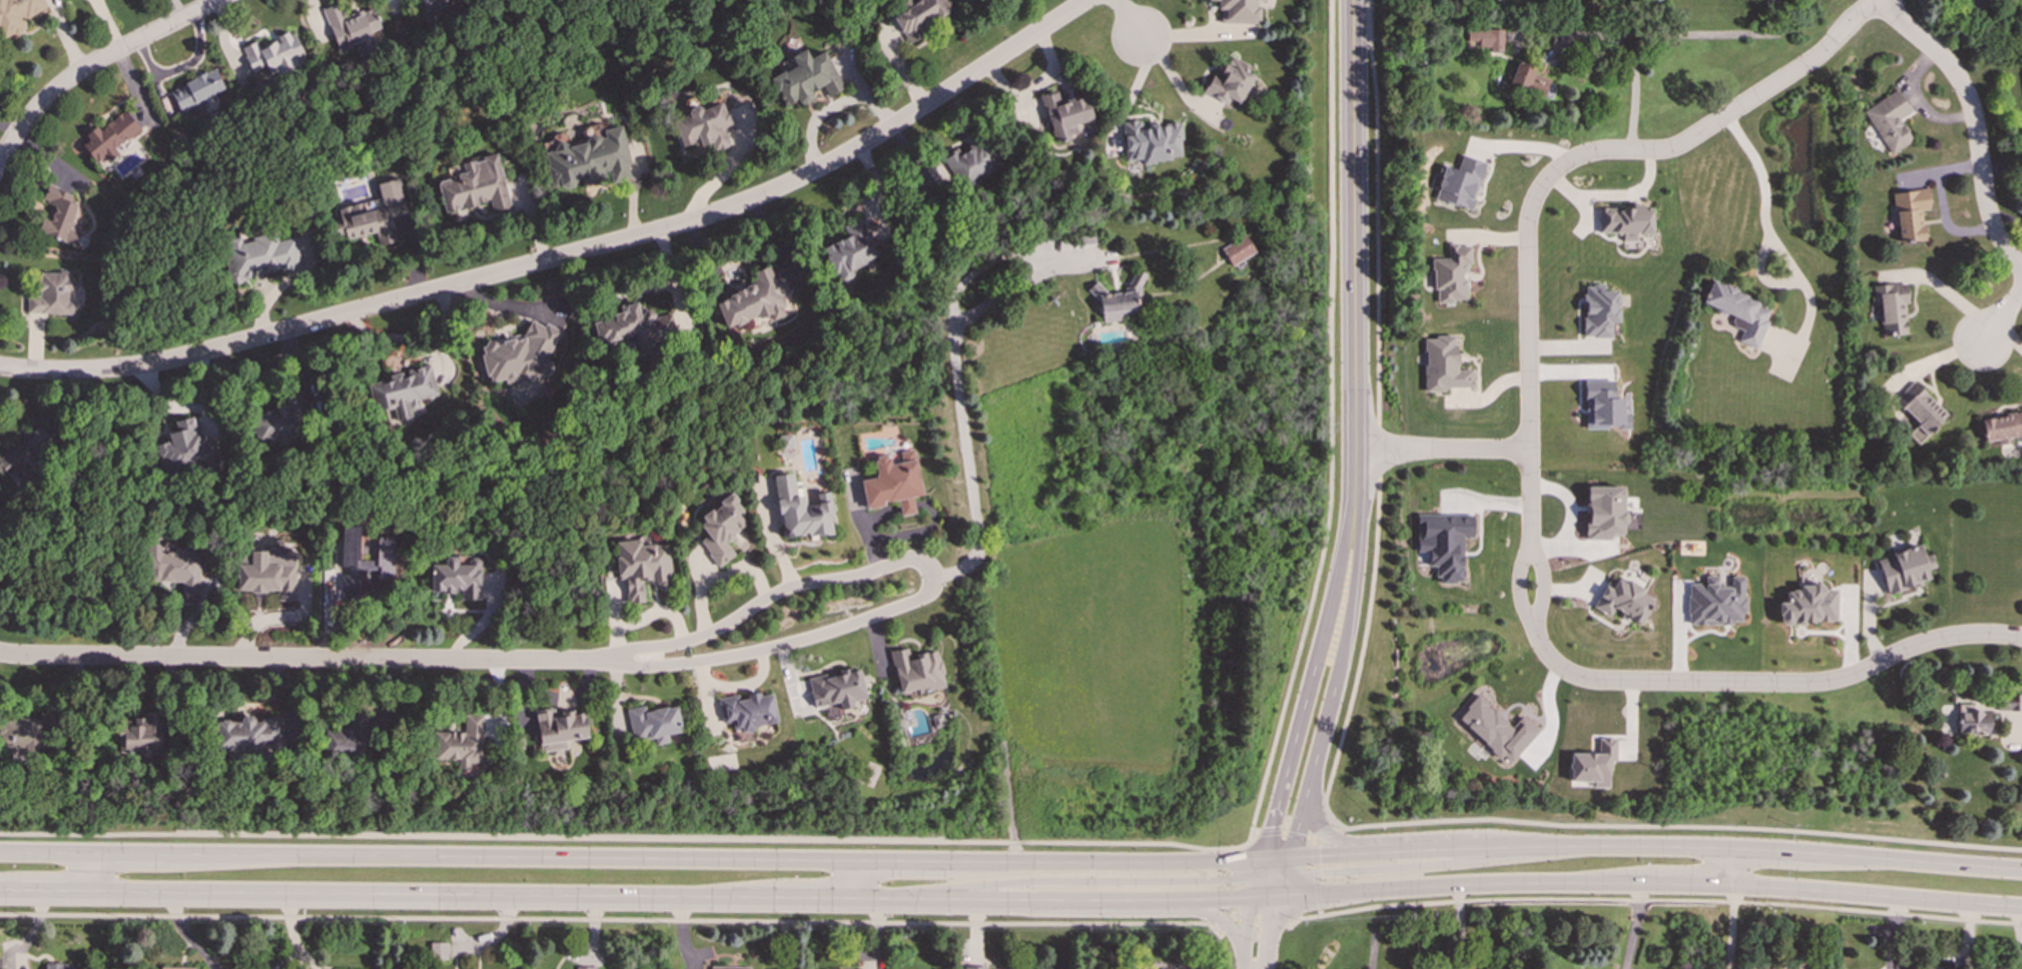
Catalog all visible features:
building: (439, 6)
building: (1237, 12)
building: (17, 15)
building: (916, 17)
road: (1128, 21)
building: (350, 26)
building: (1487, 38)
building: (274, 54)
road: (95, 64)
road: (1630, 71)
building: (805, 78)
building: (1528, 79)
building: (1229, 81)
building: (198, 89)
road: (1916, 101)
building: (1065, 115)
building: (1889, 121)
road: (1974, 122)
building: (704, 127)
building: (108, 136)
building: (1151, 142)
building: (587, 159)
building: (972, 162)
building: (1458, 181)
building: (475, 185)
road: (1943, 203)
building: (375, 213)
building: (1910, 214)
building: (59, 215)
building: (1624, 221)
road: (1353, 225)
road: (1771, 241)
building: (1236, 249)
building: (849, 250)
road: (569, 256)
building: (258, 257)
building: (1452, 274)
building: (51, 294)
building: (753, 301)
building: (1116, 301)
building: (1890, 307)
building: (1599, 310)
building: (1740, 312)
road: (2003, 314)
building: (633, 325)
building: (520, 354)
building: (1443, 365)
road: (957, 379)
building: (402, 390)
building: (1603, 406)
building: (1920, 410)
road: (1378, 420)
road: (1331, 422)
building: (275, 426)
building: (2002, 427)
building: (786, 445)
building: (186, 449)
building: (25, 454)
road: (1440, 454)
road: (1528, 464)
building: (892, 484)
building: (801, 510)
building: (1604, 511)
building: (721, 528)
building: (1443, 543)
road: (1349, 546)
building: (642, 566)
building: (176, 568)
building: (1904, 568)
road: (932, 575)
building: (266, 577)
building: (456, 577)
building: (1624, 600)
building: (1715, 601)
building: (1809, 605)
road: (336, 659)
building: (916, 670)
building: (836, 688)
road: (1306, 692)
building: (2011, 702)
building: (746, 712)
building: (1973, 719)
building: (653, 723)
building: (558, 728)
building: (1497, 729)
building: (19, 733)
building: (250, 734)
road: (2017, 734)
building: (142, 736)
building: (346, 737)
building: (462, 744)
road: (1316, 749)
building: (1594, 764)
road: (1275, 805)
road: (1683, 825)
road: (1328, 833)
road: (628, 837)
road: (1380, 839)
road: (1609, 844)
road: (1313, 846)
road: (1762, 849)
road: (1391, 851)
road: (44, 852)
road: (126, 853)
road: (383, 855)
road: (724, 857)
road: (894, 859)
road: (1909, 859)
road: (1276, 860)
traffic signals: (1293, 860)
road: (1100, 861)
traffic signals: (1260, 861)
road: (1727, 865)
road: (1258, 868)
road: (1276, 870)
road: (88, 871)
road: (1370, 871)
traffic signals: (1257, 875)
road: (846, 878)
road: (1286, 878)
road: (1096, 880)
traffic signals: (1286, 881)
road: (1464, 882)
road: (1688, 883)
road: (1254, 886)
road: (10, 887)
road: (54, 888)
road: (433, 892)
road: (1874, 895)
road: (811, 896)
traffic signals: (1280, 896)
road: (857, 897)
road: (904, 897)
road: (1266, 897)
road: (1095, 898)
traffic signals: (1252, 898)
road: (1654, 900)
road: (1161, 911)
road: (1233, 911)
road: (611, 918)
road: (1270, 925)
road: (1636, 925)
road: (1227, 926)
road: (2020, 928)
road: (1246, 933)
building: (438, 951)
road: (1265, 962)
building: (0, 963)
building: (61, 965)
building: (176, 967)
building: (585, 968)
building: (730, 968)
building: (997, 968)
building: (1164, 968)
building: (1932, 968)

